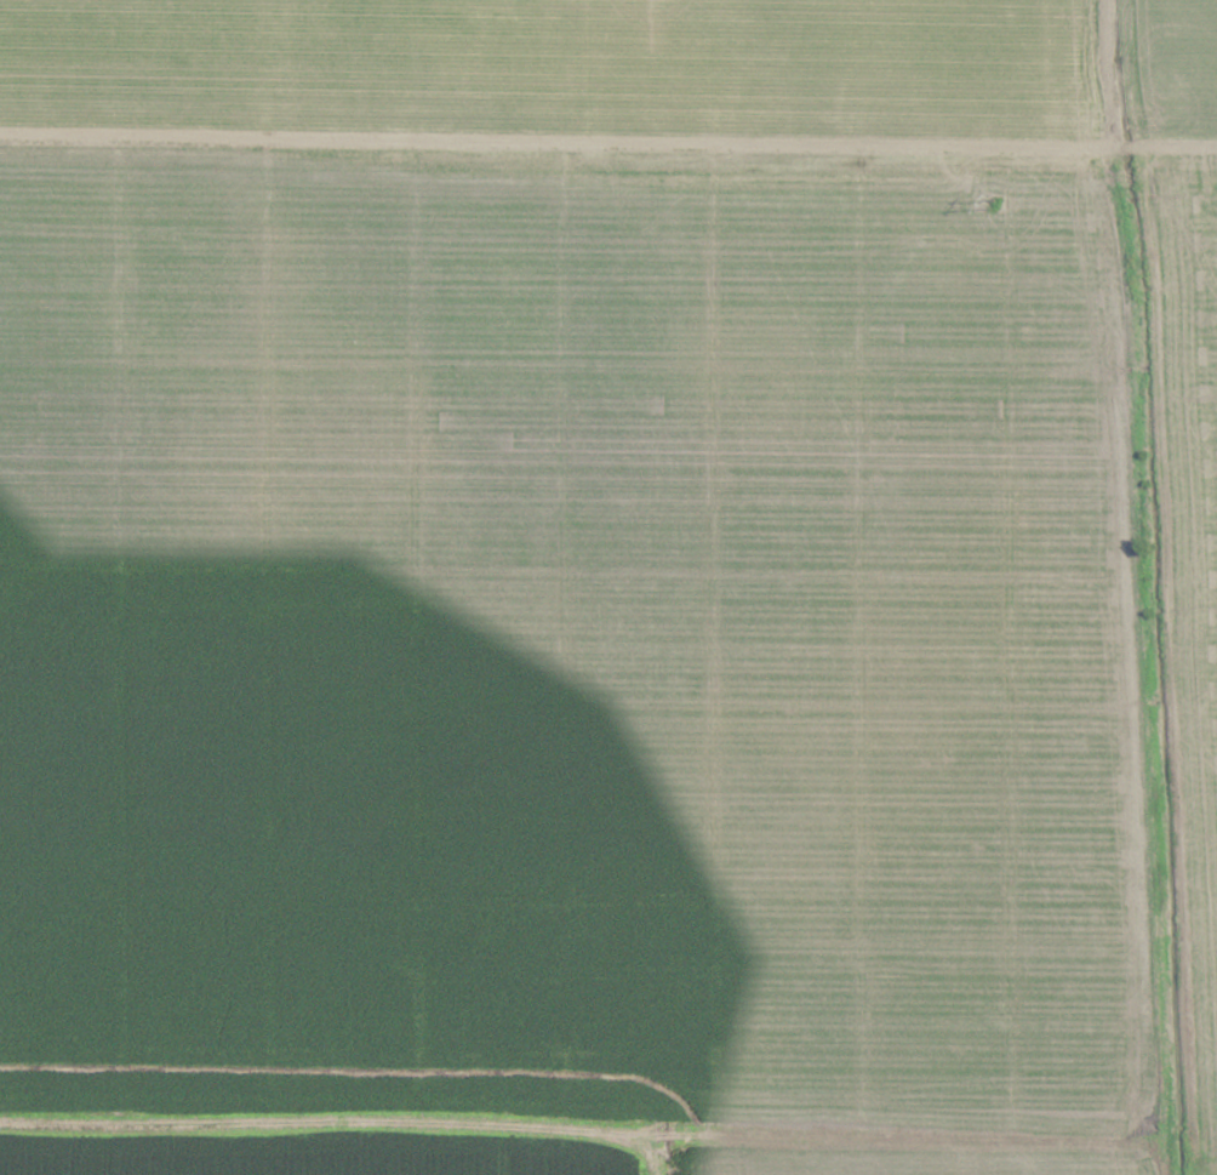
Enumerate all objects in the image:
power tower: (989, 201)

